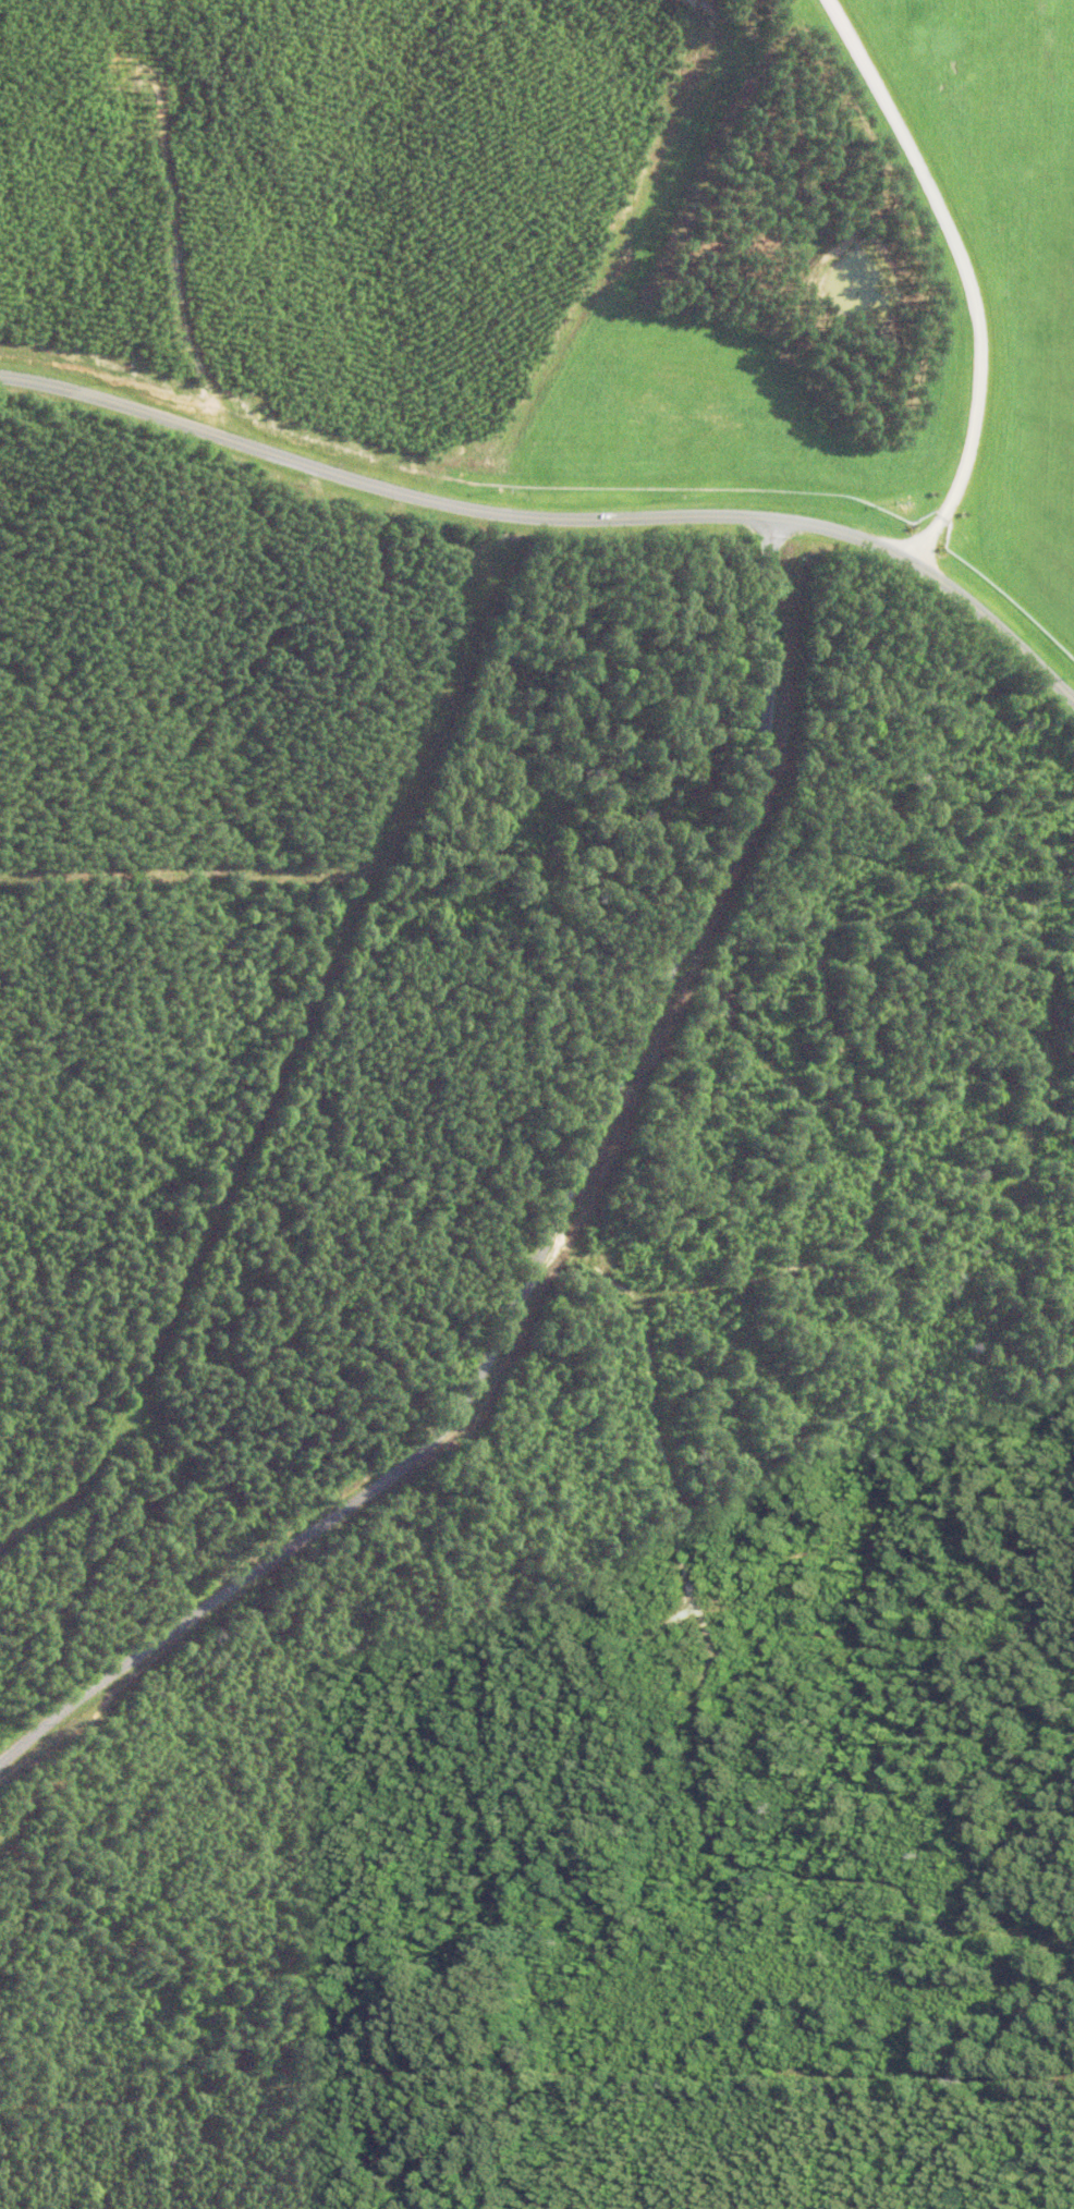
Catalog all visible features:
road: (964, 270)
road: (556, 517)
road: (556, 1241)

